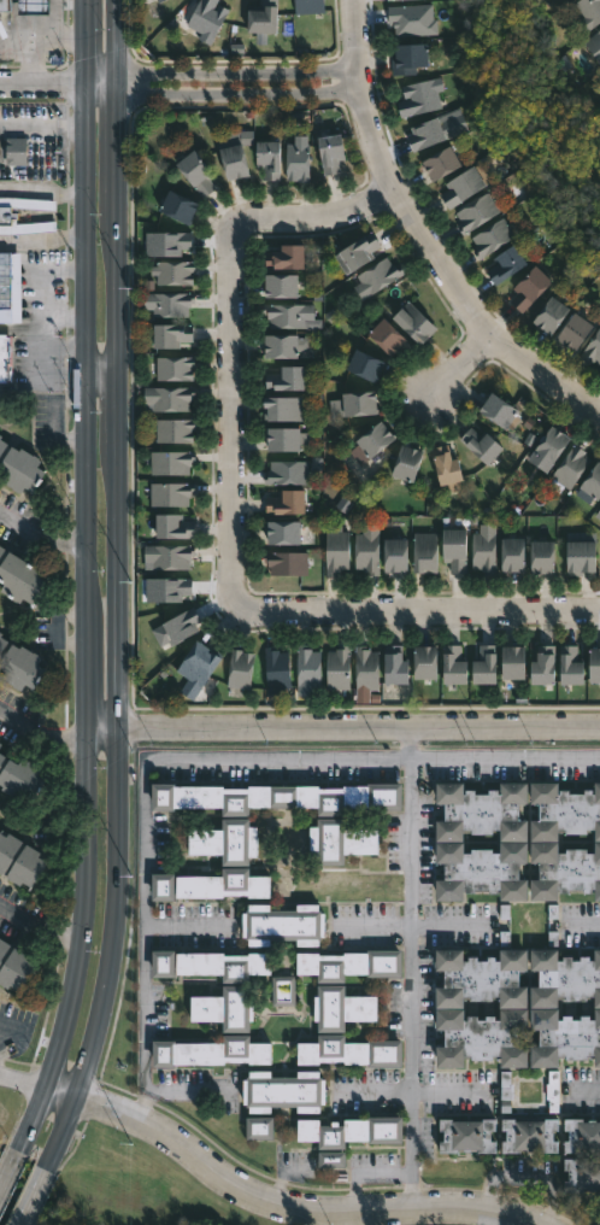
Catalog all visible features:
building: (5, 5)
gas station: (5, 5)
building: (34, 6)
gas station: (34, 6)
building: (308, 6)
building: (589, 12)
building: (208, 19)
building: (264, 19)
building: (411, 19)
building: (594, 45)
building: (407, 57)
road: (237, 70)
road: (100, 83)
road: (41, 84)
road: (239, 94)
building: (420, 96)
road: (41, 127)
building: (430, 131)
building: (16, 150)
building: (333, 151)
building: (269, 158)
building: (236, 160)
building: (298, 162)
building: (441, 163)
building: (196, 171)
building: (458, 184)
road: (41, 192)
building: (178, 206)
building: (472, 212)
building: (8, 215)
road: (420, 238)
building: (492, 238)
road: (42, 240)
building: (166, 242)
building: (360, 251)
building: (286, 258)
building: (506, 264)
building: (175, 272)
building: (378, 277)
building: (283, 286)
building: (530, 287)
building: (5, 288)
building: (169, 303)
building: (289, 315)
building: (552, 315)
building: (414, 322)
building: (576, 332)
building: (171, 335)
building: (388, 336)
building: (282, 346)
building: (593, 350)
building: (5, 357)
road: (84, 363)
road: (117, 364)
building: (366, 364)
road: (463, 365)
building: (173, 368)
road: (101, 371)
building: (287, 380)
building: (169, 398)
building: (354, 404)
building: (283, 409)
building: (499, 410)
building: (175, 430)
building: (0, 435)
building: (287, 440)
building: (372, 444)
building: (482, 445)
building: (554, 445)
building: (171, 462)
building: (408, 464)
building: (442, 464)
building: (571, 465)
building: (18, 467)
building: (288, 473)
building: (593, 486)
building: (171, 492)
building: (287, 502)
building: (598, 512)
road: (230, 514)
building: (175, 527)
road: (40, 533)
building: (284, 533)
building: (453, 547)
building: (369, 549)
building: (481, 549)
building: (337, 551)
building: (424, 553)
building: (506, 555)
building: (170, 556)
building: (396, 556)
building: (536, 556)
building: (582, 557)
building: (288, 563)
building: (18, 575)
building: (166, 590)
building: (175, 629)
building: (18, 663)
building: (427, 663)
building: (516, 663)
building: (200, 664)
building: (486, 664)
building: (595, 666)
building: (396, 667)
building: (454, 667)
building: (545, 667)
building: (571, 667)
building: (340, 668)
building: (367, 668)
building: (240, 669)
building: (307, 670)
building: (276, 672)
road: (355, 726)
road: (99, 728)
road: (39, 734)
building: (0, 744)
road: (160, 757)
building: (18, 776)
building: (280, 796)
building: (481, 810)
building: (563, 810)
building: (227, 839)
building: (337, 839)
building: (18, 856)
building: (480, 868)
building: (563, 869)
building: (208, 885)
road: (78, 908)
road: (111, 914)
road: (19, 916)
building: (280, 922)
building: (553, 924)
road: (412, 925)
road: (590, 925)
road: (186, 926)
building: (208, 963)
building: (347, 963)
building: (13, 965)
road: (412, 966)
building: (563, 975)
building: (480, 977)
building: (281, 990)
building: (223, 1007)
building: (339, 1007)
building: (480, 1036)
building: (564, 1036)
building: (347, 1050)
building: (207, 1051)
road: (20, 1079)
building: (504, 1085)
building: (549, 1089)
road: (58, 1090)
building: (286, 1091)
road: (147, 1094)
road: (412, 1094)
road: (588, 1096)
road: (140, 1108)
road: (28, 1118)
building: (260, 1127)
building: (352, 1130)
road: (59, 1131)
building: (529, 1133)
building: (466, 1135)
building: (581, 1135)
building: (330, 1159)
road: (7, 1165)
building: (582, 1172)
park: (129, 1186)
road: (30, 1195)
road: (294, 1207)
park: (442, 1224)

